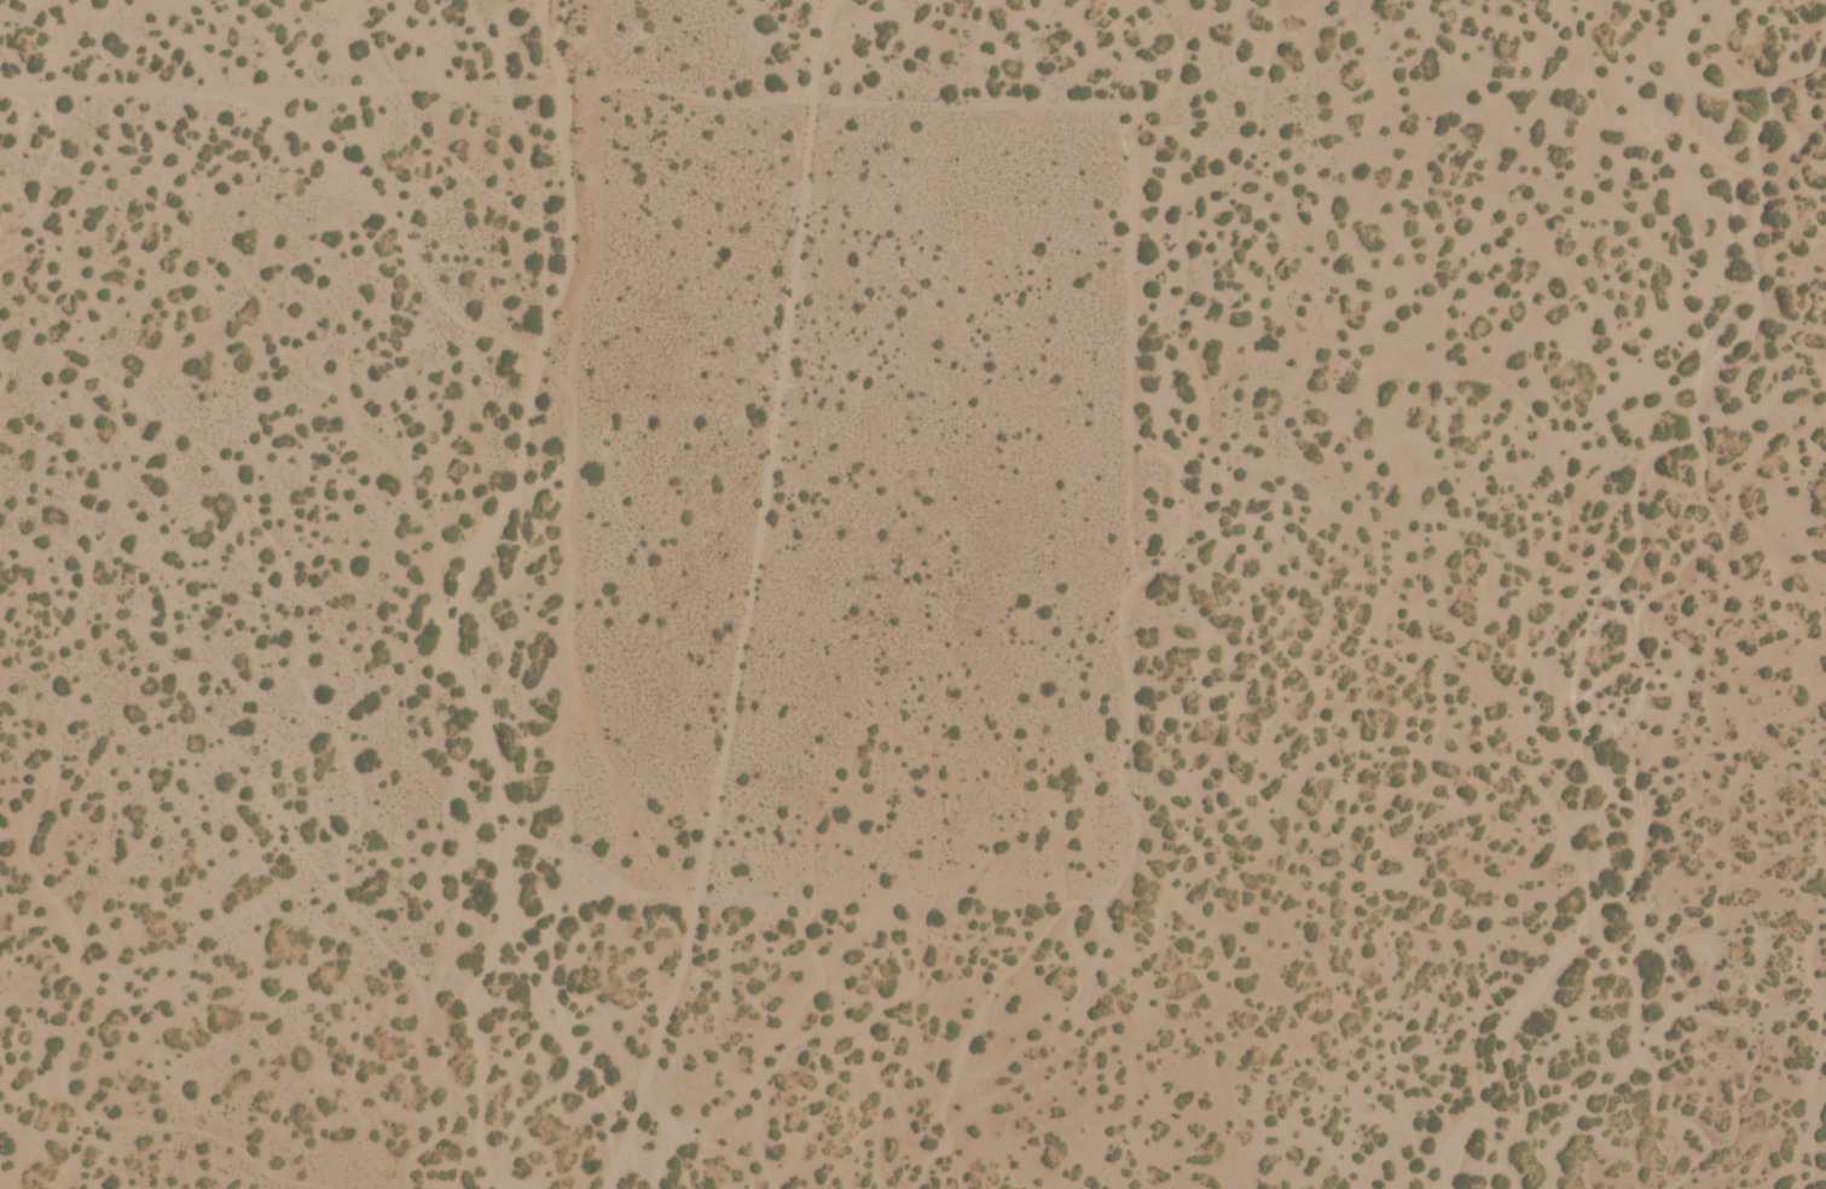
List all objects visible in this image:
road: (421, 79)
road: (317, 172)
road: (758, 599)

